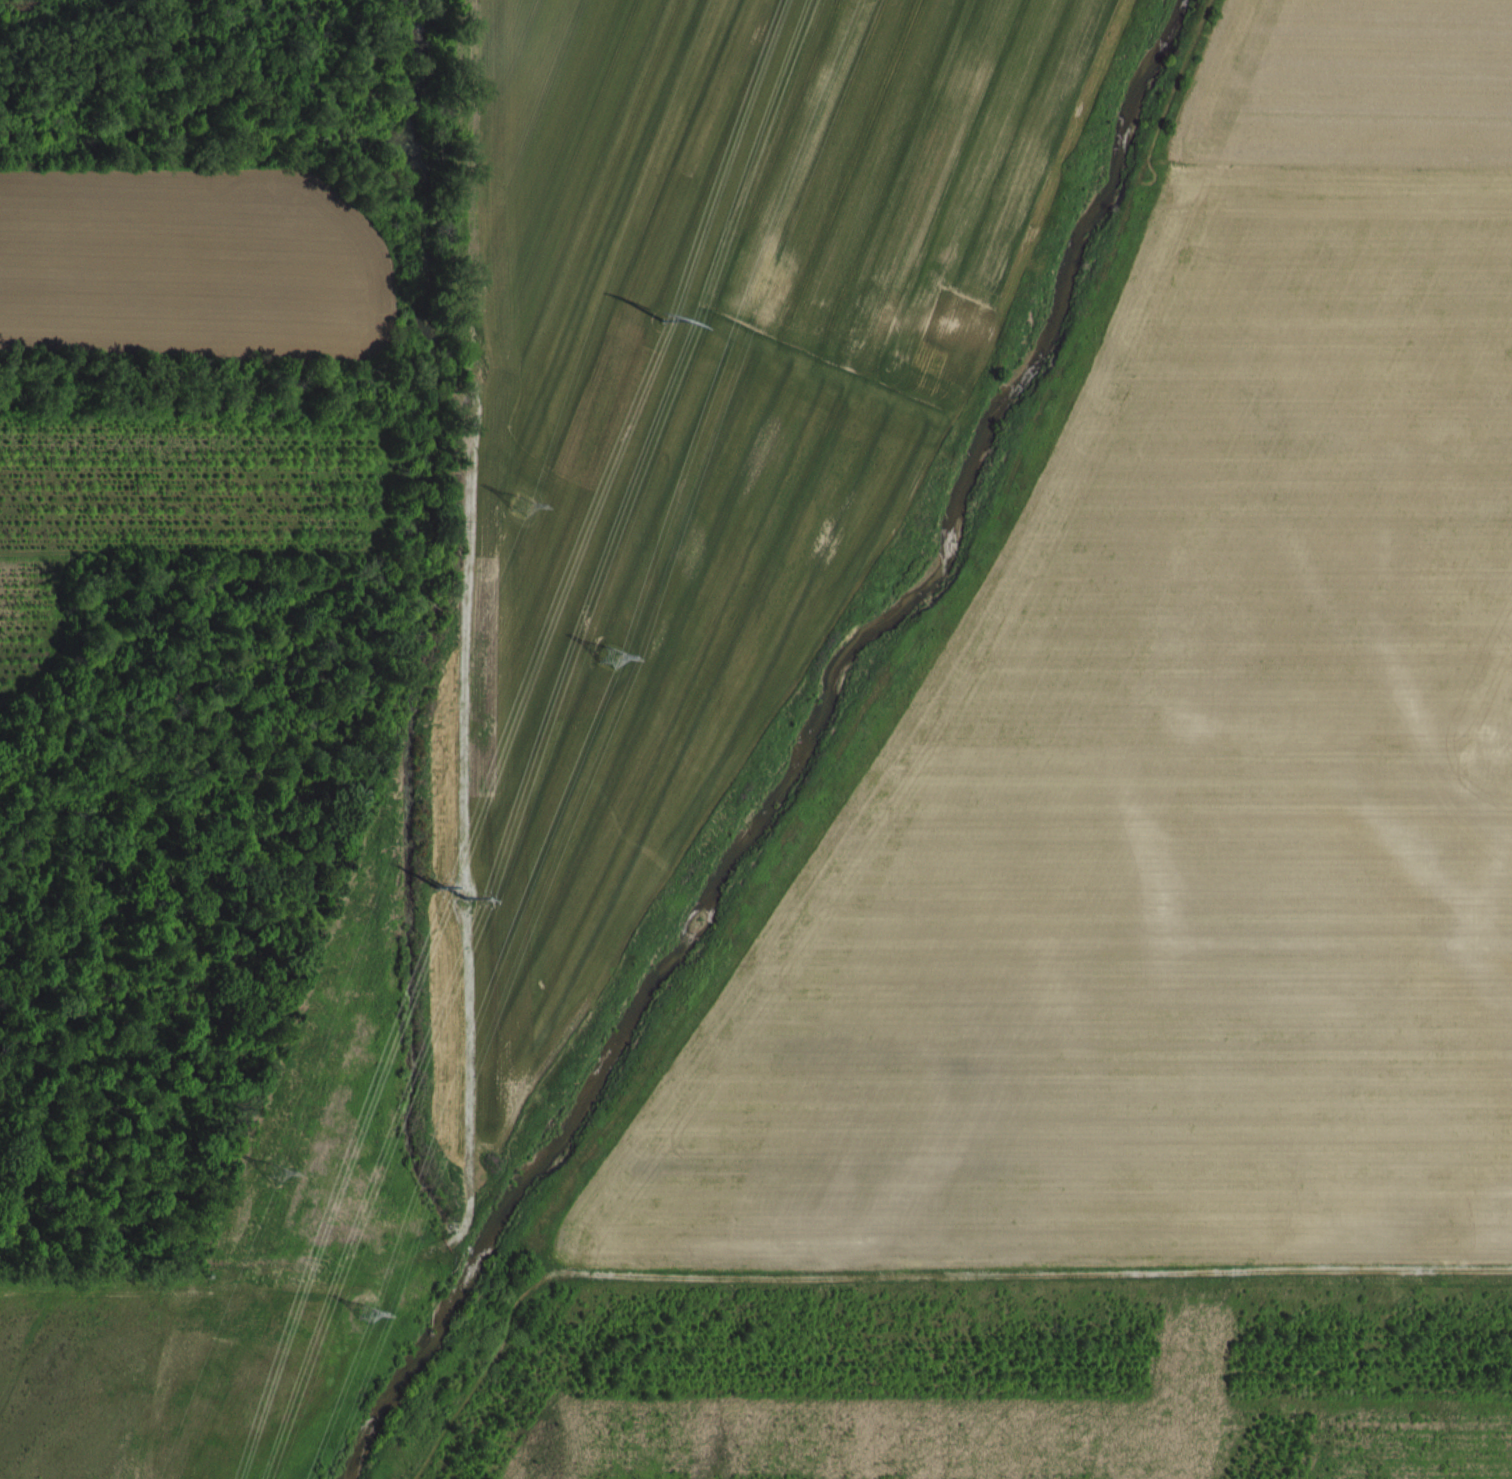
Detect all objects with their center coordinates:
power tower: (660, 339)
power tower: (526, 507)
power tower: (615, 658)
power tower: (436, 908)
power tower: (276, 1170)
road: (1034, 1270)
power tower: (376, 1313)
road: (481, 1371)

